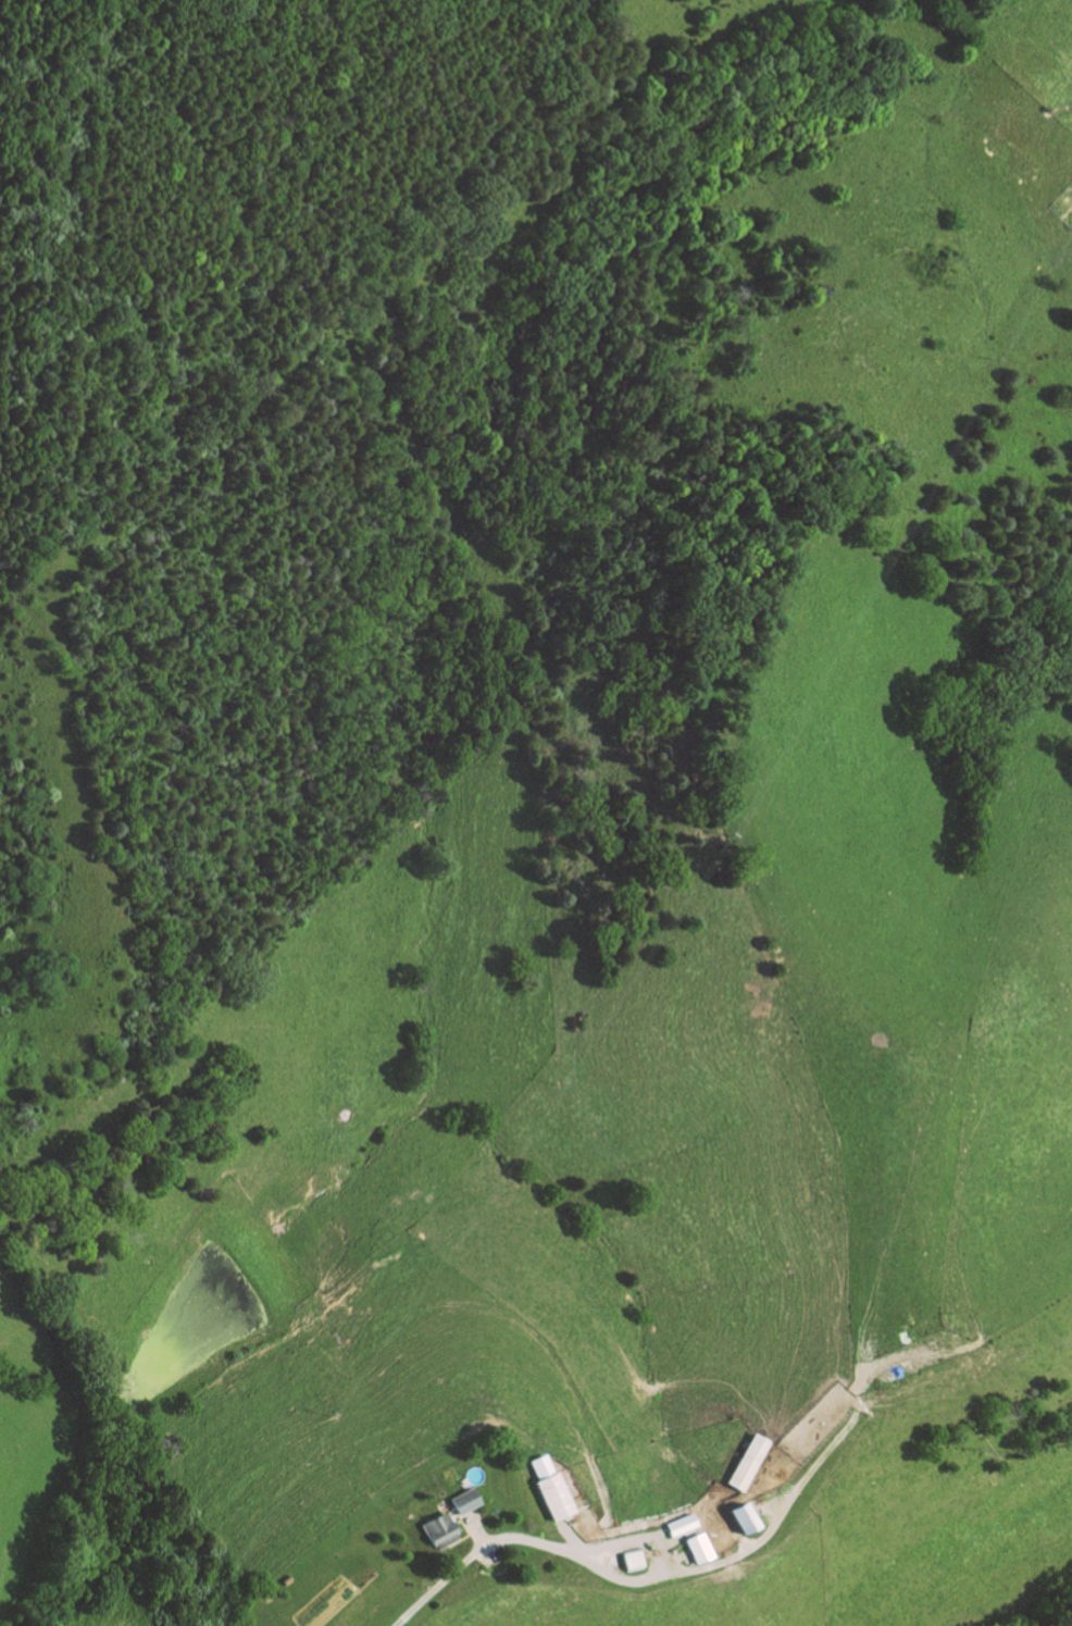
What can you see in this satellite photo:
road: (896, 1358)
building: (746, 1462)
building: (546, 1488)
building: (461, 1500)
road: (766, 1510)
building: (736, 1517)
building: (747, 1518)
building: (677, 1525)
building: (435, 1530)
road: (475, 1536)
road: (569, 1536)
road: (458, 1538)
road: (631, 1540)
building: (694, 1548)
building: (627, 1559)
road: (678, 1572)

